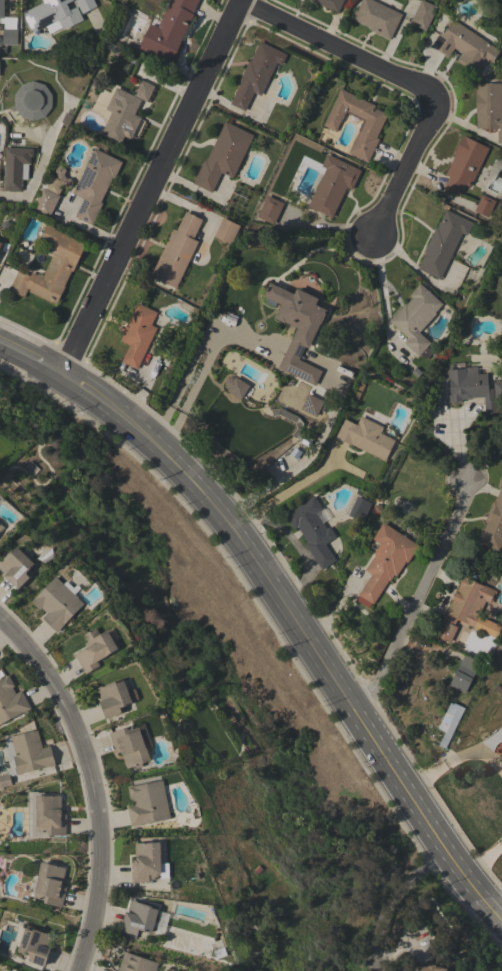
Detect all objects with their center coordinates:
building: (329, 4)
building: (85, 5)
building: (1, 9)
building: (423, 14)
building: (51, 15)
building: (377, 17)
building: (169, 29)
building: (9, 31)
building: (464, 46)
road: (337, 51)
building: (256, 74)
building: (32, 100)
building: (489, 107)
building: (125, 110)
building: (369, 128)
building: (223, 156)
building: (464, 164)
building: (16, 167)
road: (403, 168)
building: (58, 180)
building: (95, 184)
building: (333, 185)
road: (152, 187)
building: (238, 199)
road: (4, 200)
building: (46, 202)
building: (485, 205)
building: (270, 209)
road: (88, 227)
building: (227, 230)
building: (0, 240)
building: (443, 243)
building: (0, 244)
building: (177, 251)
building: (51, 267)
road: (380, 285)
building: (416, 317)
building: (297, 329)
building: (138, 334)
road: (242, 344)
road: (31, 356)
building: (235, 386)
building: (471, 386)
building: (498, 389)
road: (178, 392)
road: (188, 398)
building: (311, 404)
building: (366, 437)
road: (286, 492)
building: (360, 509)
building: (493, 524)
building: (1, 527)
building: (313, 531)
road: (301, 552)
building: (46, 557)
building: (386, 560)
building: (16, 567)
road: (418, 599)
building: (57, 603)
building: (468, 609)
road: (301, 630)
building: (95, 648)
building: (464, 674)
building: (115, 697)
building: (11, 700)
building: (451, 726)
building: (130, 746)
building: (25, 755)
building: (500, 756)
road: (454, 760)
road: (90, 786)
building: (147, 803)
building: (50, 815)
road: (483, 859)
building: (146, 862)
building: (49, 884)
road: (390, 898)
building: (138, 919)
building: (35, 945)
building: (136, 963)
building: (424, 968)

